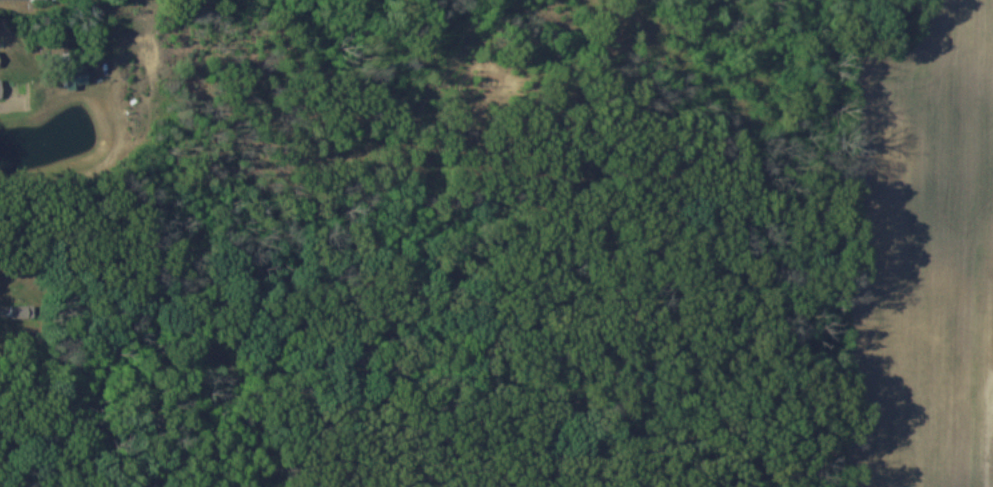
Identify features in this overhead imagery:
building: (1, 54)

